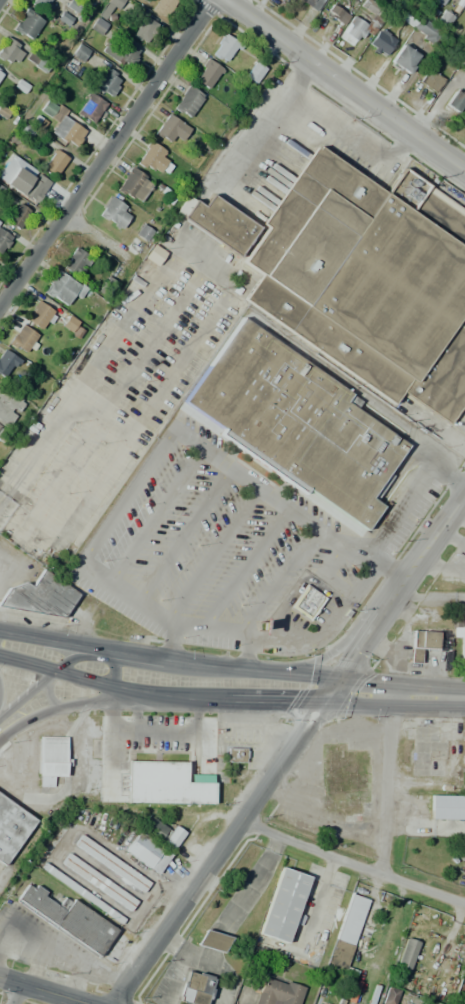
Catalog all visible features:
building: (454, 0)
building: (40, 4)
building: (112, 4)
building: (312, 4)
building: (162, 6)
building: (336, 14)
building: (362, 22)
building: (27, 24)
building: (97, 26)
building: (420, 26)
building: (143, 29)
building: (380, 42)
building: (225, 46)
building: (10, 51)
building: (79, 52)
building: (121, 54)
building: (402, 59)
building: (36, 62)
building: (462, 63)
building: (254, 71)
building: (0, 72)
building: (207, 74)
building: (430, 80)
building: (107, 82)
road: (345, 84)
building: (454, 100)
building: (187, 101)
building: (90, 107)
building: (60, 123)
building: (170, 128)
road: (104, 153)
building: (153, 158)
building: (53, 163)
building: (26, 183)
building: (134, 185)
building: (114, 212)
building: (17, 216)
building: (220, 224)
building: (143, 233)
building: (3, 239)
building: (154, 255)
building: (75, 261)
building: (369, 279)
building: (62, 287)
building: (40, 316)
building: (68, 323)
building: (22, 339)
building: (6, 363)
building: (8, 405)
building: (294, 422)
building: (39, 595)
building: (305, 601)
building: (421, 643)
building: (460, 643)
road: (230, 684)
traffic signals: (330, 689)
road: (32, 693)
road: (289, 749)
building: (235, 755)
building: (51, 759)
building: (167, 783)
road: (384, 784)
building: (447, 807)
building: (11, 827)
building: (161, 833)
building: (145, 852)
building: (111, 863)
road: (352, 863)
building: (98, 881)
building: (82, 893)
building: (282, 904)
building: (69, 919)
building: (351, 919)
building: (10, 929)
building: (377, 930)
building: (212, 941)
building: (406, 954)
building: (350, 961)
building: (194, 988)
building: (433, 990)
road: (43, 991)
building: (278, 993)
road: (14, 994)
building: (388, 995)

